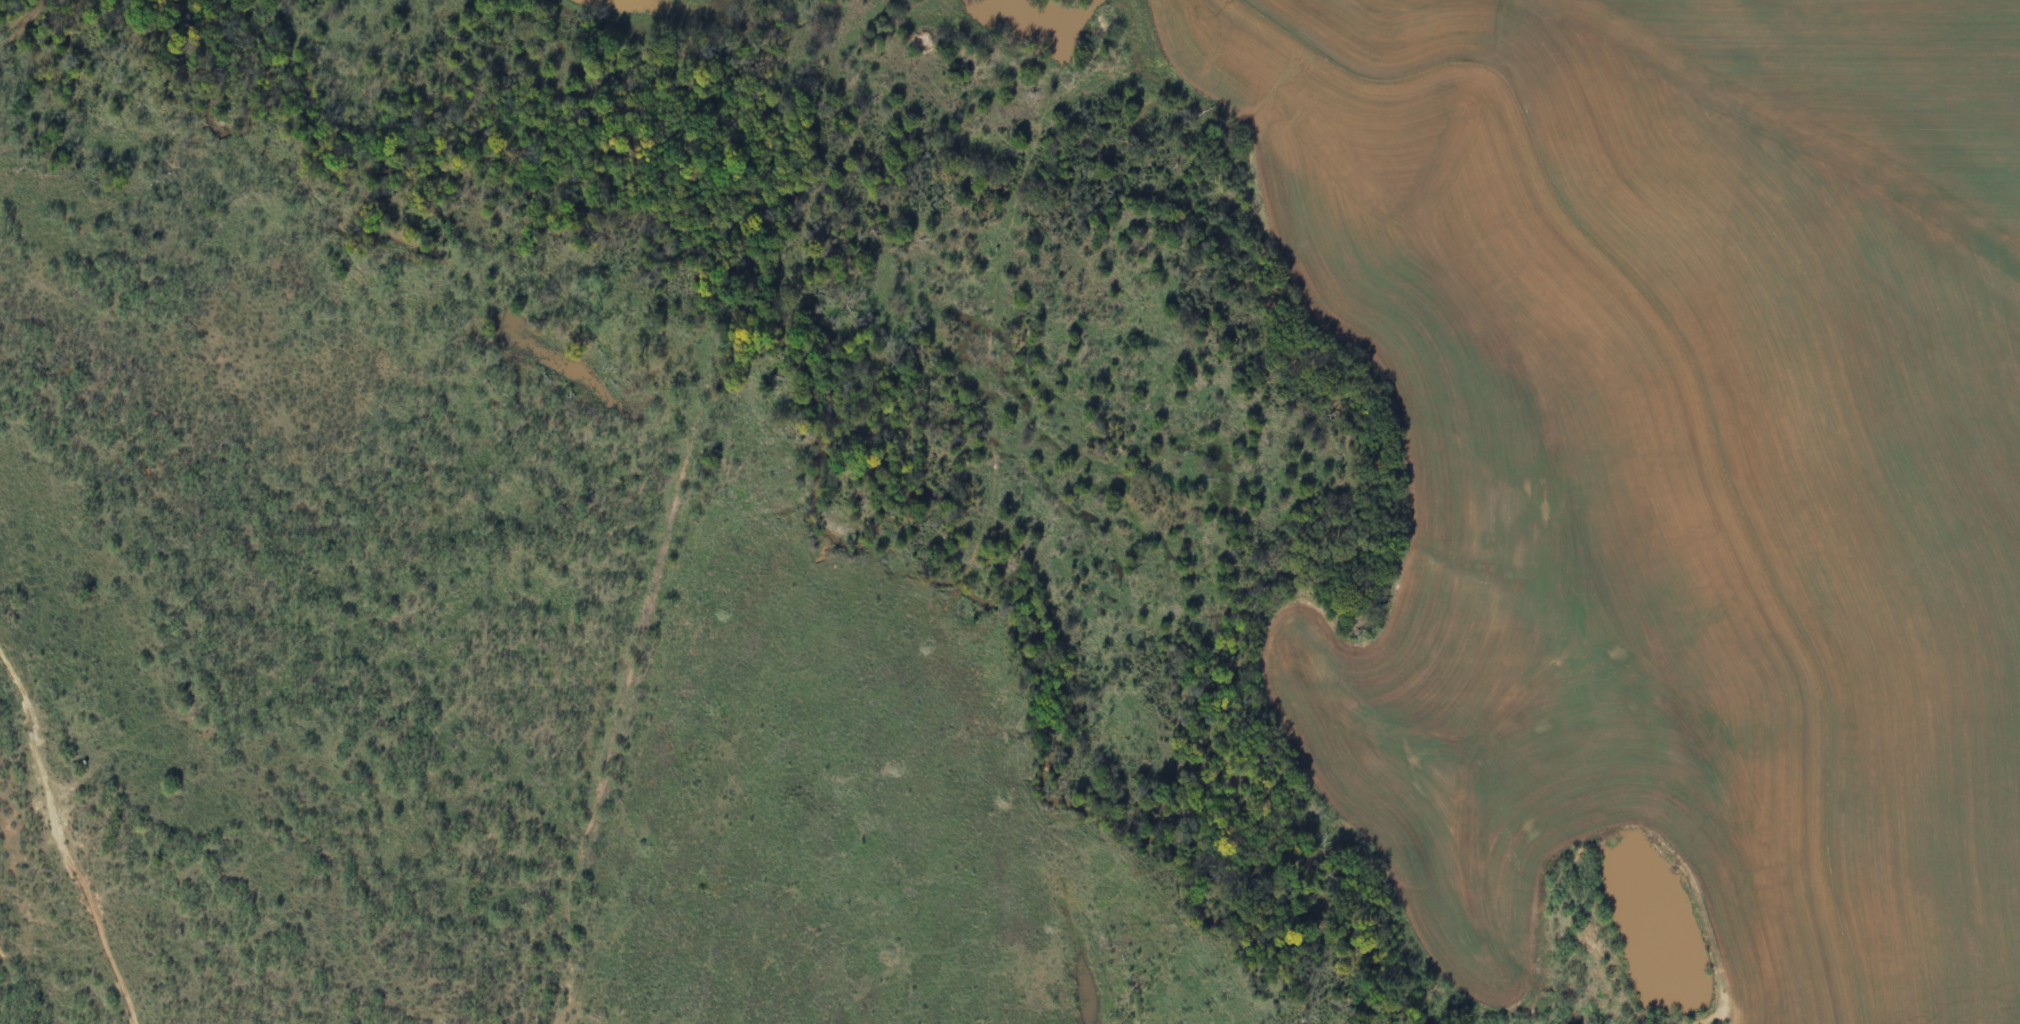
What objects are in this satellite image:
road: (45, 877)

